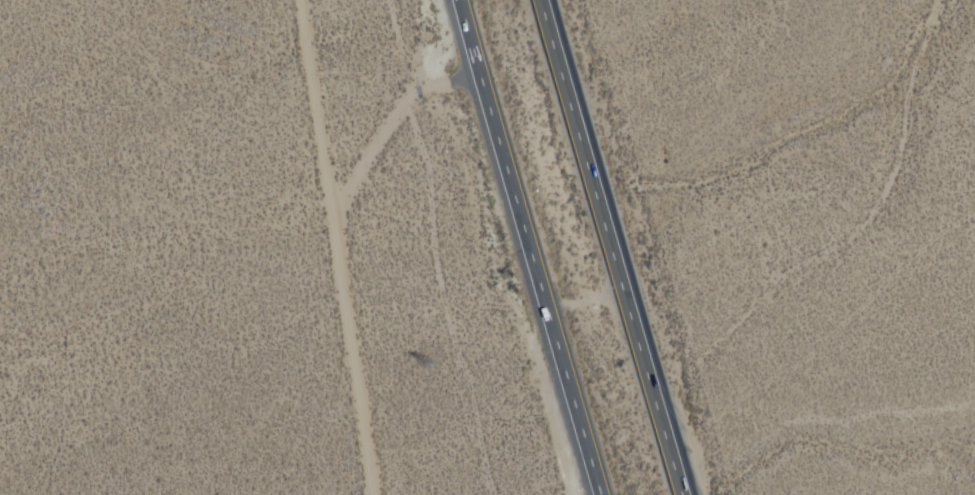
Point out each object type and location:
road: (464, 76)
road: (378, 145)
road: (327, 247)
road: (532, 247)
road: (610, 247)
power tower: (434, 370)

